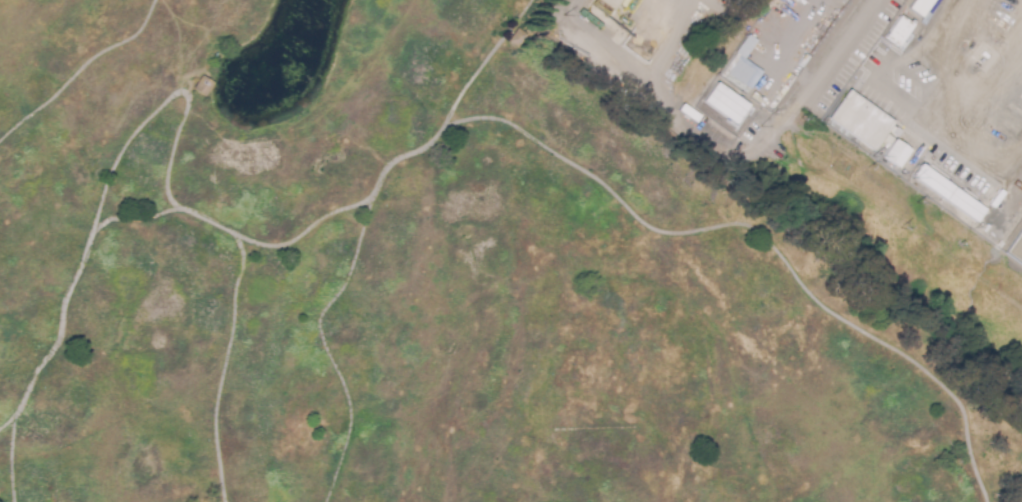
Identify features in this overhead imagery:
building: (610, 3)
building: (918, 6)
building: (777, 17)
building: (897, 30)
road: (510, 31)
building: (517, 35)
road: (794, 42)
road: (951, 51)
road: (834, 55)
road: (485, 58)
road: (79, 69)
building: (736, 69)
building: (203, 84)
building: (778, 93)
building: (759, 98)
road: (163, 103)
building: (723, 103)
building: (857, 120)
building: (897, 131)
building: (896, 153)
building: (940, 162)
road: (576, 164)
building: (946, 192)
building: (1012, 205)
road: (139, 218)
power substation: (1016, 248)
park: (417, 281)
road: (225, 367)
road: (6, 422)
road: (11, 460)

